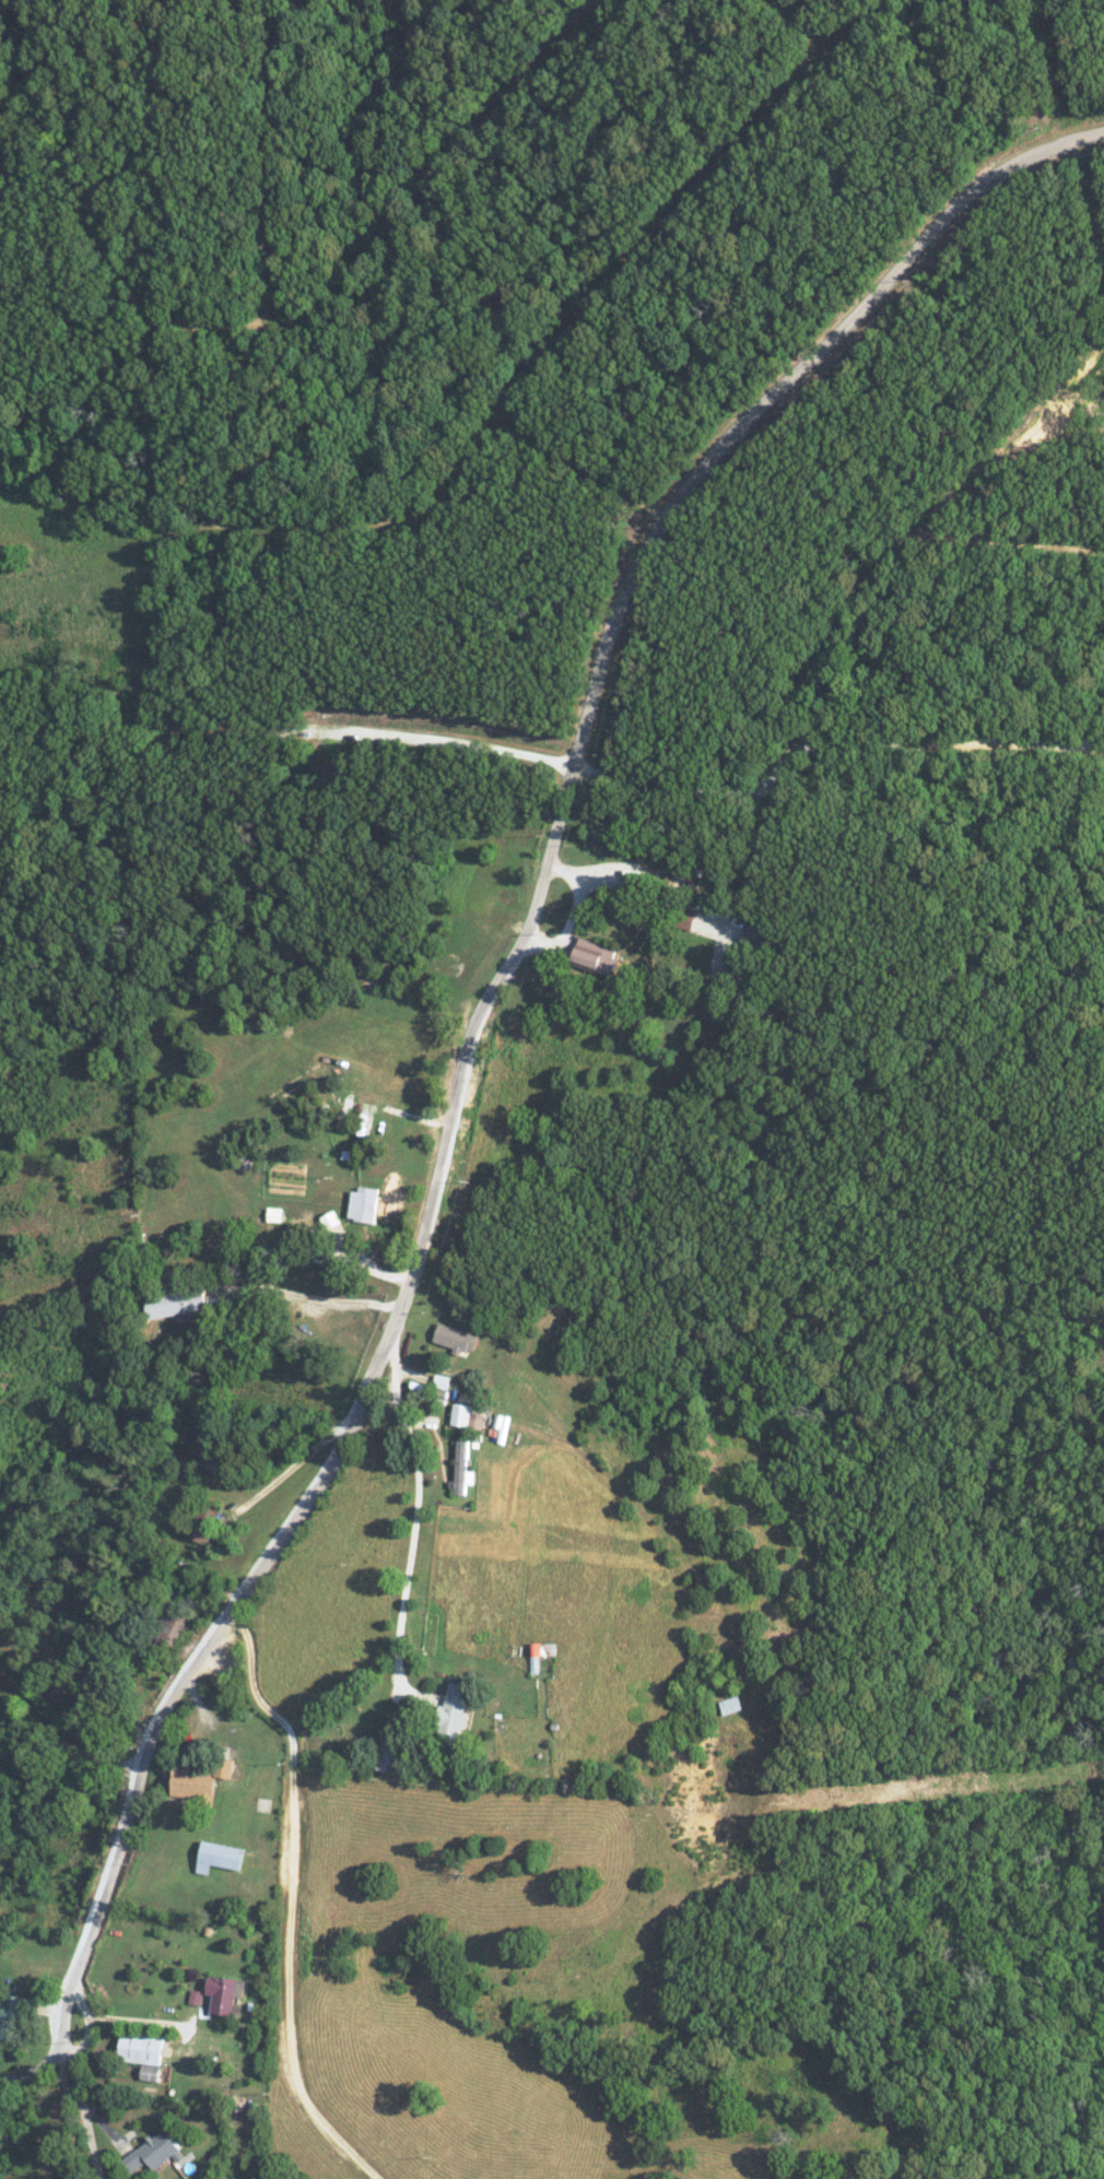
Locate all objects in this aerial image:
road: (822, 26)
road: (794, 27)
road: (1054, 69)
road: (491, 115)
road: (269, 161)
road: (544, 349)
road: (158, 387)
road: (582, 461)
road: (374, 731)
road: (830, 741)
building: (339, 773)
road: (569, 910)
building: (768, 939)
building: (596, 955)
building: (448, 965)
road: (465, 1046)
building: (365, 1205)
building: (257, 1216)
building: (331, 1220)
road: (321, 1300)
building: (177, 1303)
road: (340, 1338)
building: (455, 1338)
building: (442, 1381)
building: (466, 1416)
building: (462, 1470)
road: (416, 1522)
building: (200, 1529)
road: (132, 1569)
building: (173, 1629)
building: (540, 1654)
building: (454, 1715)
building: (193, 1785)
building: (220, 1857)
road: (286, 1899)
building: (227, 1993)
building: (197, 1995)
building: (11, 2015)
building: (144, 2052)
road: (86, 2094)
building: (154, 2151)

